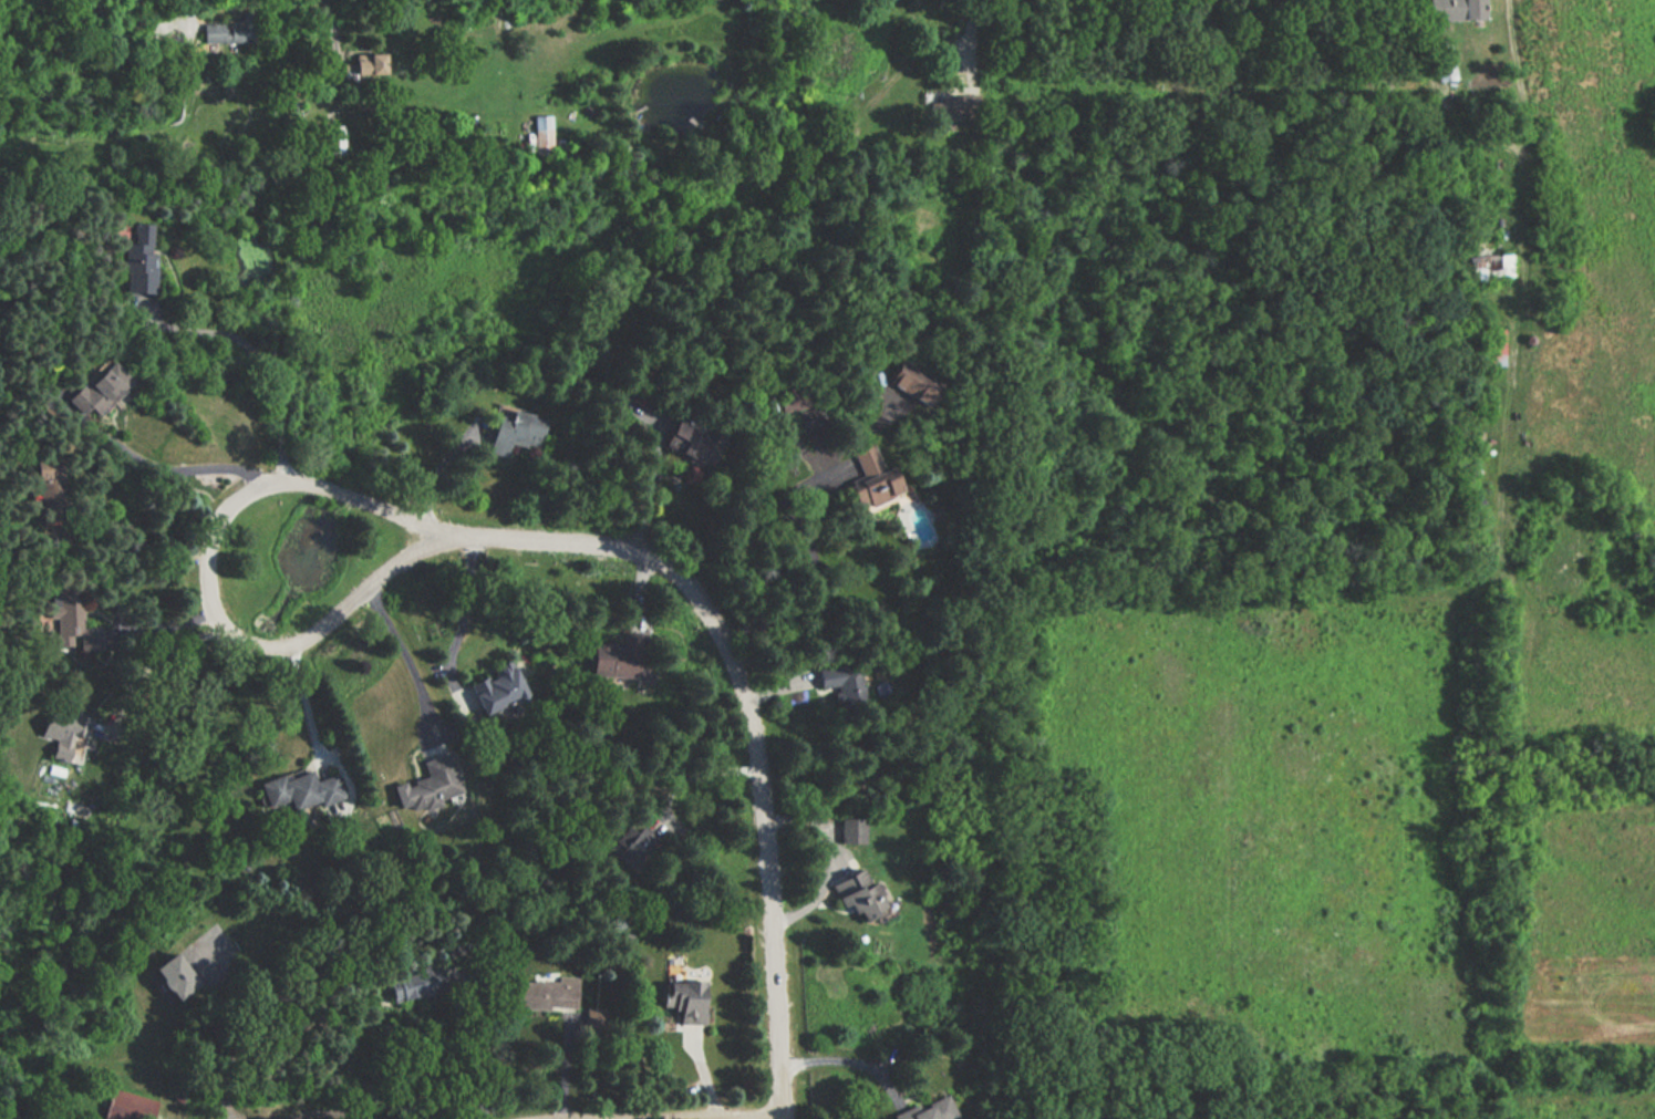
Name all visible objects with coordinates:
building: (1455, 10)
road: (1493, 28)
building: (228, 29)
road: (1041, 39)
road: (968, 44)
road: (1431, 51)
building: (1444, 58)
road: (906, 62)
building: (366, 64)
road: (1517, 74)
building: (950, 110)
road: (1467, 129)
building: (541, 135)
road: (1517, 200)
crop: (1600, 236)
building: (139, 258)
building: (1488, 262)
road: (1499, 304)
building: (1491, 344)
road: (266, 365)
building: (911, 377)
building: (792, 394)
building: (810, 416)
road: (1502, 427)
building: (511, 431)
road: (850, 439)
building: (693, 448)
road: (437, 464)
road: (820, 469)
road: (177, 472)
building: (870, 477)
road: (648, 491)
road: (333, 494)
road: (211, 528)
road: (141, 531)
quarry: (1568, 550)
road: (405, 553)
road: (803, 562)
road: (1476, 583)
road: (467, 610)
road: (157, 621)
road: (249, 644)
road: (404, 657)
building: (614, 659)
road: (154, 664)
building: (841, 678)
crop: (1586, 682)
road: (779, 688)
building: (495, 690)
road: (307, 698)
road: (751, 727)
road: (692, 777)
building: (430, 786)
building: (300, 790)
road: (795, 819)
building: (851, 830)
road: (835, 862)
road: (820, 889)
building: (857, 893)
crop: (1591, 925)
building: (406, 987)
building: (546, 993)
building: (683, 999)
road: (235, 1051)
road: (480, 1053)
road: (850, 1063)
road: (883, 1063)
building: (930, 1110)
road: (677, 1116)
road: (329, 1117)

